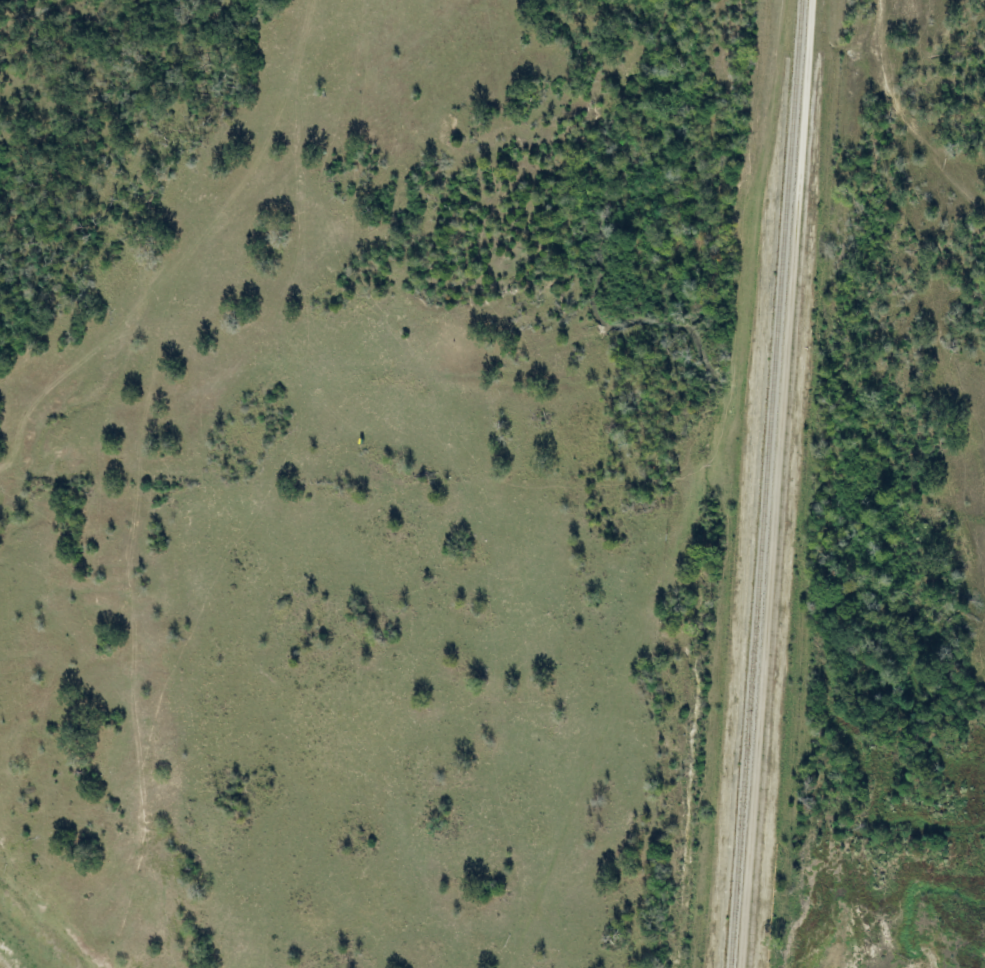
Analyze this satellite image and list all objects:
railway: (765, 483)
road: (775, 484)

